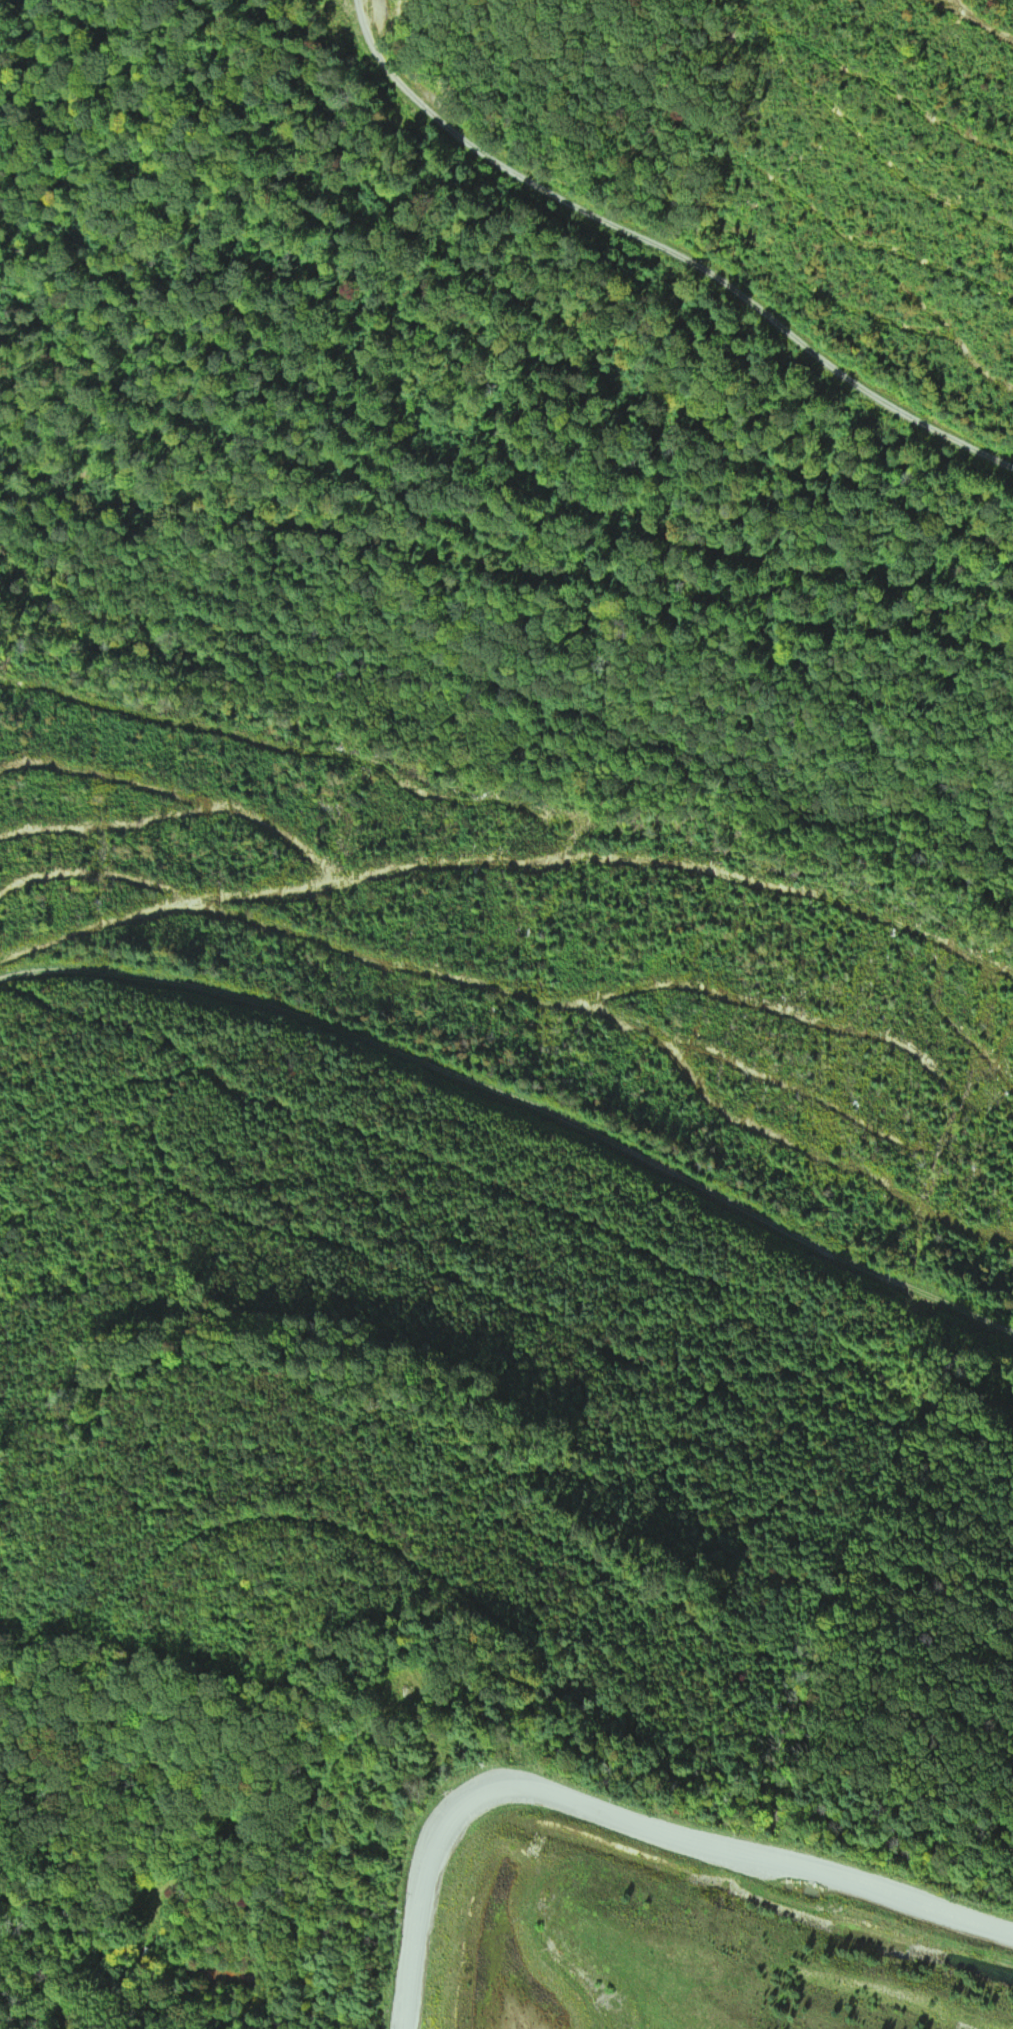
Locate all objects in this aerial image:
road: (618, 1829)

